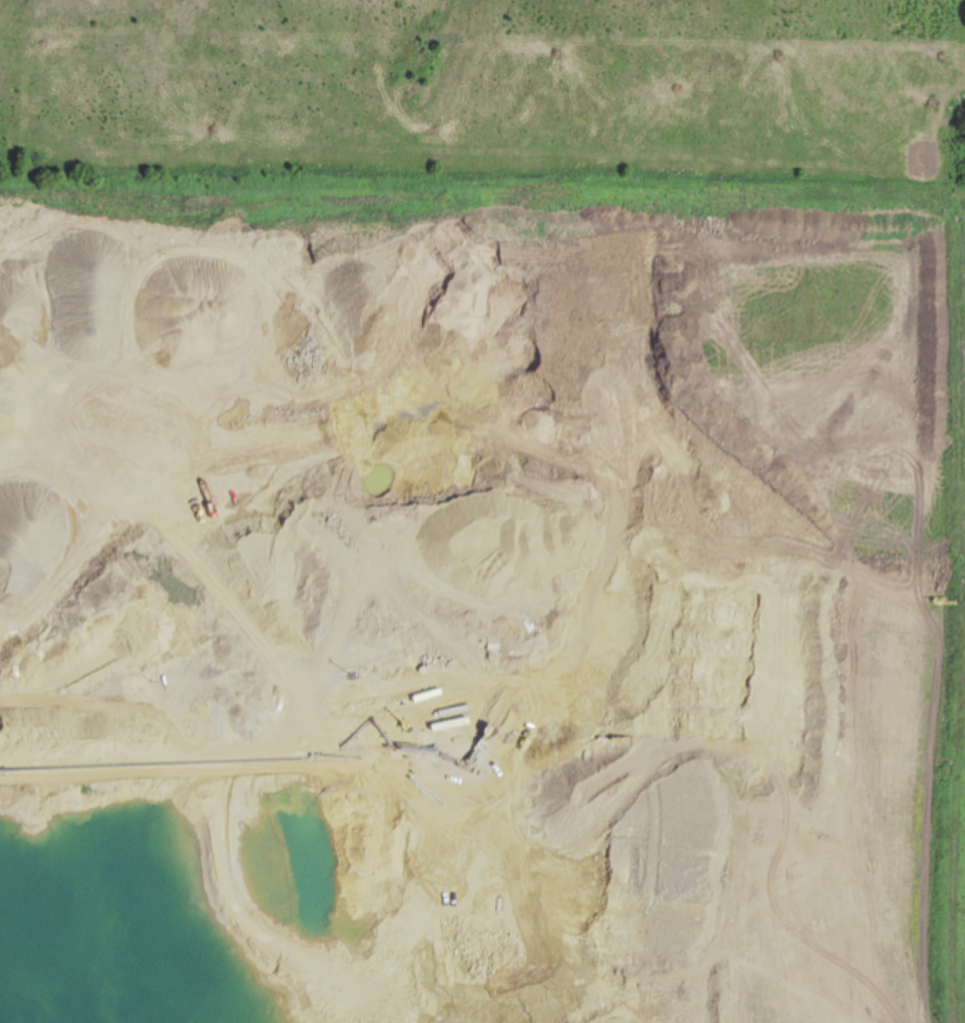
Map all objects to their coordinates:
crop: (962, 366)
quarry: (479, 597)

